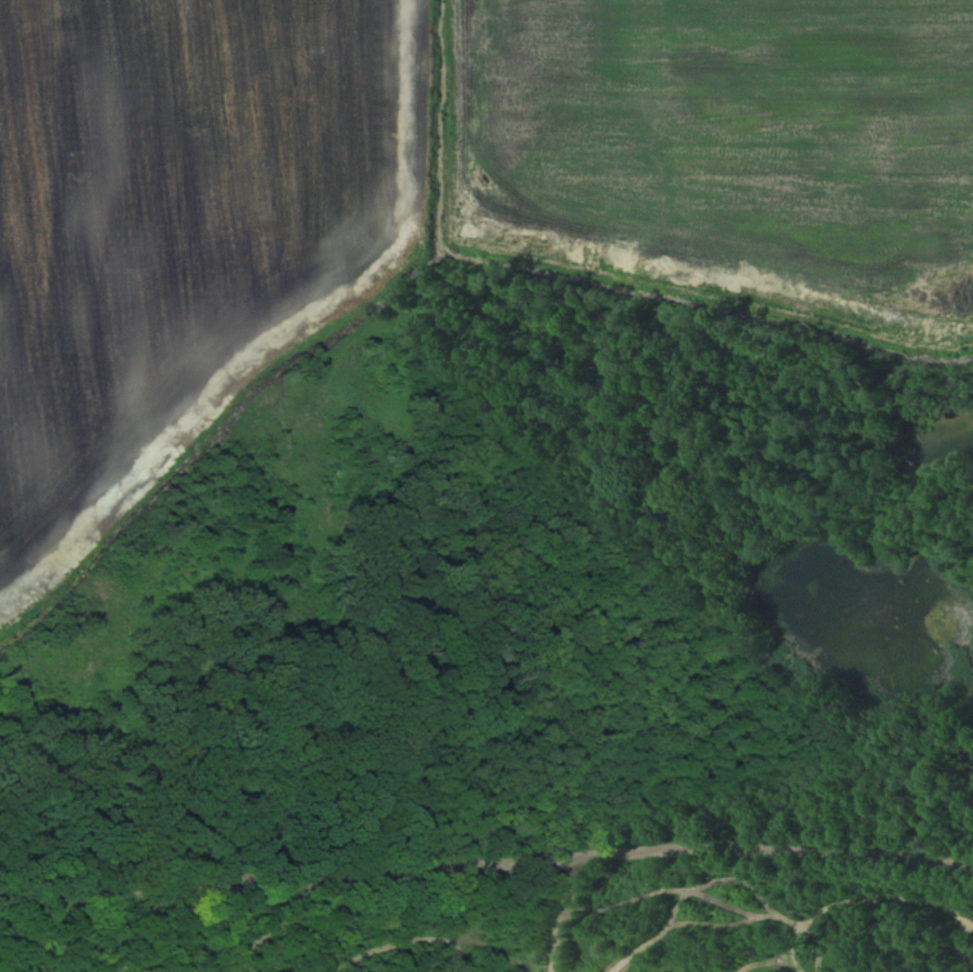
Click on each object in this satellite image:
road: (486, 861)

